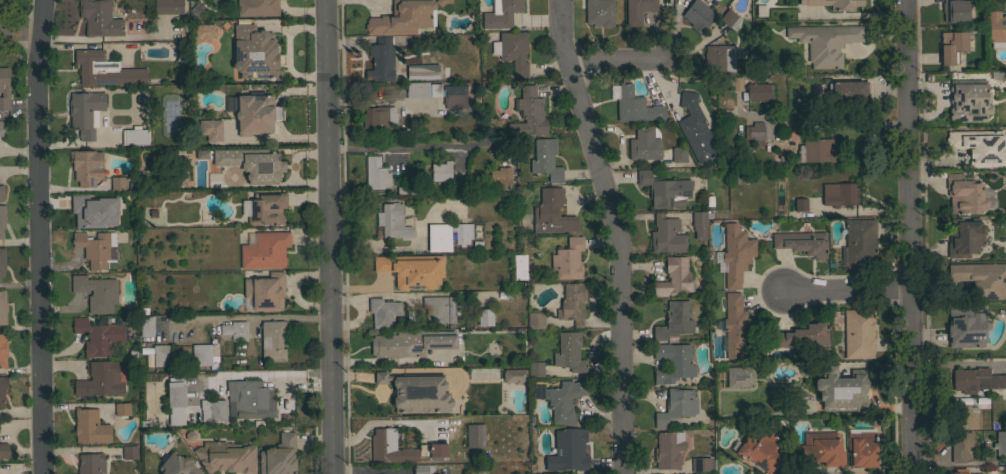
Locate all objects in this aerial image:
building: (6, 0)
building: (834, 4)
building: (1005, 4)
building: (168, 6)
building: (257, 7)
road: (557, 9)
building: (638, 10)
building: (955, 11)
building: (599, 12)
building: (500, 14)
building: (697, 17)
building: (99, 18)
building: (403, 18)
building: (728, 20)
building: (132, 26)
building: (996, 29)
building: (205, 31)
road: (100, 37)
building: (825, 42)
road: (18, 43)
building: (953, 48)
building: (512, 50)
building: (182, 51)
building: (256, 52)
road: (619, 59)
building: (718, 59)
building: (381, 60)
building: (105, 69)
building: (423, 71)
building: (4, 88)
building: (423, 89)
building: (757, 91)
building: (844, 94)
building: (455, 96)
building: (968, 100)
road: (382, 102)
building: (224, 104)
building: (636, 106)
building: (84, 112)
building: (256, 114)
building: (527, 115)
building: (379, 118)
road: (823, 123)
building: (1, 128)
building: (693, 128)
building: (211, 129)
building: (755, 133)
building: (135, 137)
building: (644, 144)
building: (980, 146)
road: (385, 148)
building: (811, 152)
building: (679, 154)
building: (546, 159)
building: (253, 163)
building: (86, 167)
building: (441, 171)
building: (376, 173)
building: (500, 176)
building: (118, 183)
building: (665, 190)
building: (1, 192)
building: (841, 194)
building: (964, 194)
building: (801, 204)
building: (268, 208)
building: (85, 210)
building: (552, 213)
building: (2, 219)
building: (127, 219)
building: (394, 220)
building: (700, 223)
building: (463, 233)
building: (666, 235)
road: (36, 236)
road: (912, 236)
road: (329, 237)
building: (439, 237)
building: (965, 237)
road: (617, 242)
building: (802, 242)
building: (860, 243)
building: (96, 248)
building: (265, 250)
building: (736, 253)
building: (568, 259)
building: (2, 260)
building: (520, 266)
building: (410, 270)
building: (674, 277)
building: (981, 279)
road: (847, 289)
building: (265, 291)
building: (96, 292)
road: (381, 294)
building: (571, 303)
building: (3, 307)
building: (440, 308)
building: (383, 312)
building: (485, 316)
road: (251, 317)
building: (536, 320)
building: (674, 320)
building: (146, 326)
building: (967, 326)
building: (737, 327)
building: (235, 330)
building: (859, 333)
building: (98, 336)
building: (804, 336)
building: (272, 339)
building: (412, 342)
building: (3, 351)
building: (570, 352)
building: (204, 353)
building: (162, 355)
road: (391, 359)
building: (673, 362)
building: (536, 369)
road: (261, 373)
building: (514, 375)
building: (740, 376)
building: (101, 379)
building: (976, 380)
building: (2, 389)
building: (843, 390)
building: (417, 392)
building: (176, 396)
building: (250, 397)
building: (564, 400)
building: (676, 406)
building: (122, 409)
building: (214, 410)
building: (964, 416)
building: (90, 426)
building: (475, 435)
building: (1000, 443)
building: (573, 446)
building: (961, 446)
building: (400, 448)
building: (822, 448)
building: (669, 449)
building: (862, 449)
building: (4, 450)
building: (130, 452)
building: (760, 452)
building: (226, 456)
building: (279, 456)
building: (91, 463)
building: (702, 464)
building: (177, 465)
building: (422, 469)
building: (441, 470)
building: (478, 470)
building: (960, 471)

